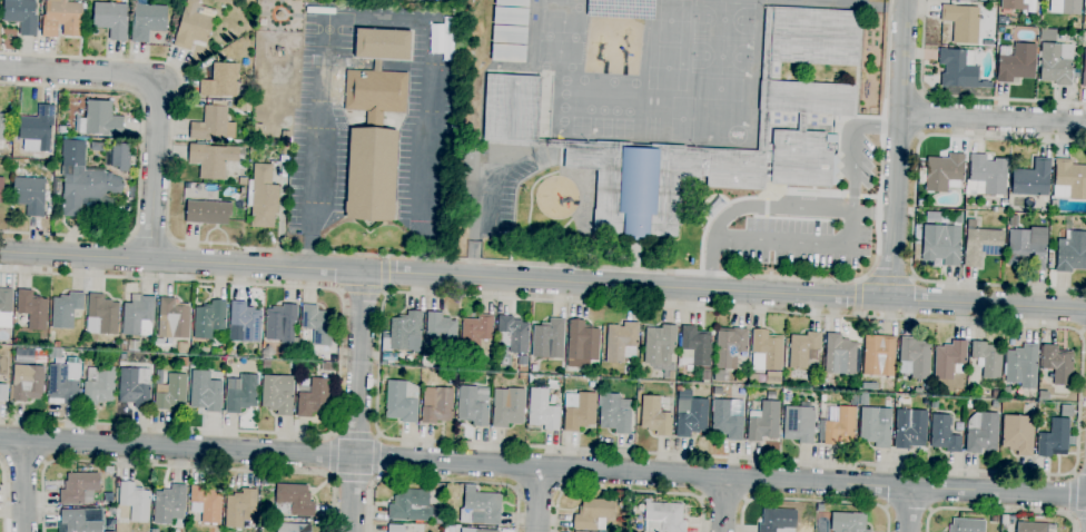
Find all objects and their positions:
building: (1013, 4)
building: (1065, 7)
building: (1085, 7)
building: (21, 16)
road: (381, 16)
building: (61, 18)
building: (110, 19)
building: (1001, 20)
building: (147, 21)
building: (962, 22)
building: (1035, 22)
building: (194, 24)
building: (510, 31)
building: (993, 51)
building: (1016, 62)
building: (1055, 63)
building: (959, 69)
building: (1084, 70)
building: (221, 81)
road: (158, 88)
road: (958, 99)
road: (918, 115)
road: (991, 118)
building: (100, 119)
building: (209, 124)
building: (375, 124)
building: (511, 124)
building: (38, 127)
building: (2, 130)
building: (286, 137)
building: (98, 146)
road: (897, 149)
building: (285, 151)
building: (120, 156)
building: (211, 159)
road: (139, 161)
building: (944, 173)
building: (986, 176)
building: (1031, 178)
building: (1069, 179)
building: (243, 181)
building: (83, 183)
building: (1, 189)
building: (30, 195)
building: (261, 197)
building: (920, 203)
building: (1004, 204)
road: (812, 209)
road: (914, 211)
building: (208, 213)
road: (873, 213)
building: (958, 217)
building: (1014, 220)
road: (480, 225)
road: (150, 236)
flagpole: (365, 236)
flagpole: (369, 236)
road: (799, 243)
building: (916, 243)
building: (941, 244)
building: (980, 244)
building: (1027, 248)
building: (1072, 253)
road: (482, 262)
road: (384, 277)
road: (887, 277)
road: (542, 280)
road: (359, 289)
road: (857, 298)
building: (6, 308)
building: (32, 308)
building: (66, 309)
building: (103, 313)
building: (138, 316)
building: (172, 319)
building: (209, 319)
building: (246, 321)
building: (282, 324)
building: (318, 324)
building: (441, 332)
building: (475, 332)
building: (404, 333)
road: (1083, 333)
building: (513, 334)
road: (1080, 334)
building: (547, 339)
building: (122, 342)
building: (621, 342)
building: (57, 344)
building: (134, 344)
building: (263, 344)
building: (582, 344)
building: (182, 347)
building: (694, 347)
building: (729, 347)
building: (660, 348)
building: (803, 348)
building: (766, 351)
building: (268, 352)
building: (289, 352)
building: (53, 353)
building: (229, 353)
building: (839, 355)
building: (879, 355)
building: (914, 357)
road: (339, 359)
building: (950, 359)
building: (987, 359)
building: (182, 362)
building: (522, 363)
building: (265, 364)
building: (1058, 364)
building: (1023, 366)
building: (327, 367)
building: (593, 372)
building: (718, 375)
building: (522, 376)
building: (705, 377)
building: (772, 377)
building: (752, 380)
building: (452, 381)
building: (27, 383)
building: (816, 383)
building: (63, 384)
building: (591, 384)
building: (825, 384)
building: (98, 385)
building: (869, 386)
building: (135, 387)
building: (641, 387)
building: (679, 388)
building: (169, 391)
building: (205, 392)
building: (3, 393)
building: (240, 393)
building: (959, 393)
building: (277, 394)
building: (997, 394)
building: (1043, 396)
building: (314, 398)
building: (822, 398)
building: (853, 400)
road: (357, 401)
building: (402, 401)
building: (934, 403)
building: (969, 404)
building: (995, 404)
building: (436, 405)
building: (473, 405)
building: (507, 406)
building: (542, 410)
building: (579, 411)
building: (1066, 411)
building: (614, 413)
building: (654, 416)
building: (691, 416)
building: (728, 418)
building: (763, 422)
building: (799, 423)
building: (837, 425)
building: (876, 426)
building: (909, 428)
building: (981, 433)
building: (944, 434)
building: (1018, 434)
building: (1055, 439)
road: (377, 457)
road: (2, 460)
road: (23, 460)
road: (45, 463)
road: (543, 466)
road: (180, 467)
road: (353, 479)
road: (442, 481)
road: (23, 485)
building: (78, 487)
road: (537, 490)
road: (625, 491)
road: (1073, 494)
building: (108, 496)
road: (723, 496)
road: (2, 499)
road: (537, 499)
building: (135, 501)
building: (294, 501)
road: (812, 501)
road: (722, 503)
building: (169, 504)
building: (206, 504)
building: (411, 506)
building: (480, 508)
building: (819, 508)
road: (908, 509)
road: (908, 509)
building: (111, 510)
building: (240, 510)
road: (997, 511)
building: (593, 514)
road: (1077, 515)
building: (663, 518)
building: (993, 518)
building: (778, 520)
building: (77, 522)
building: (848, 522)
building: (967, 525)
building: (292, 528)
building: (395, 528)
building: (1031, 528)
building: (154, 530)
building: (485, 531)

